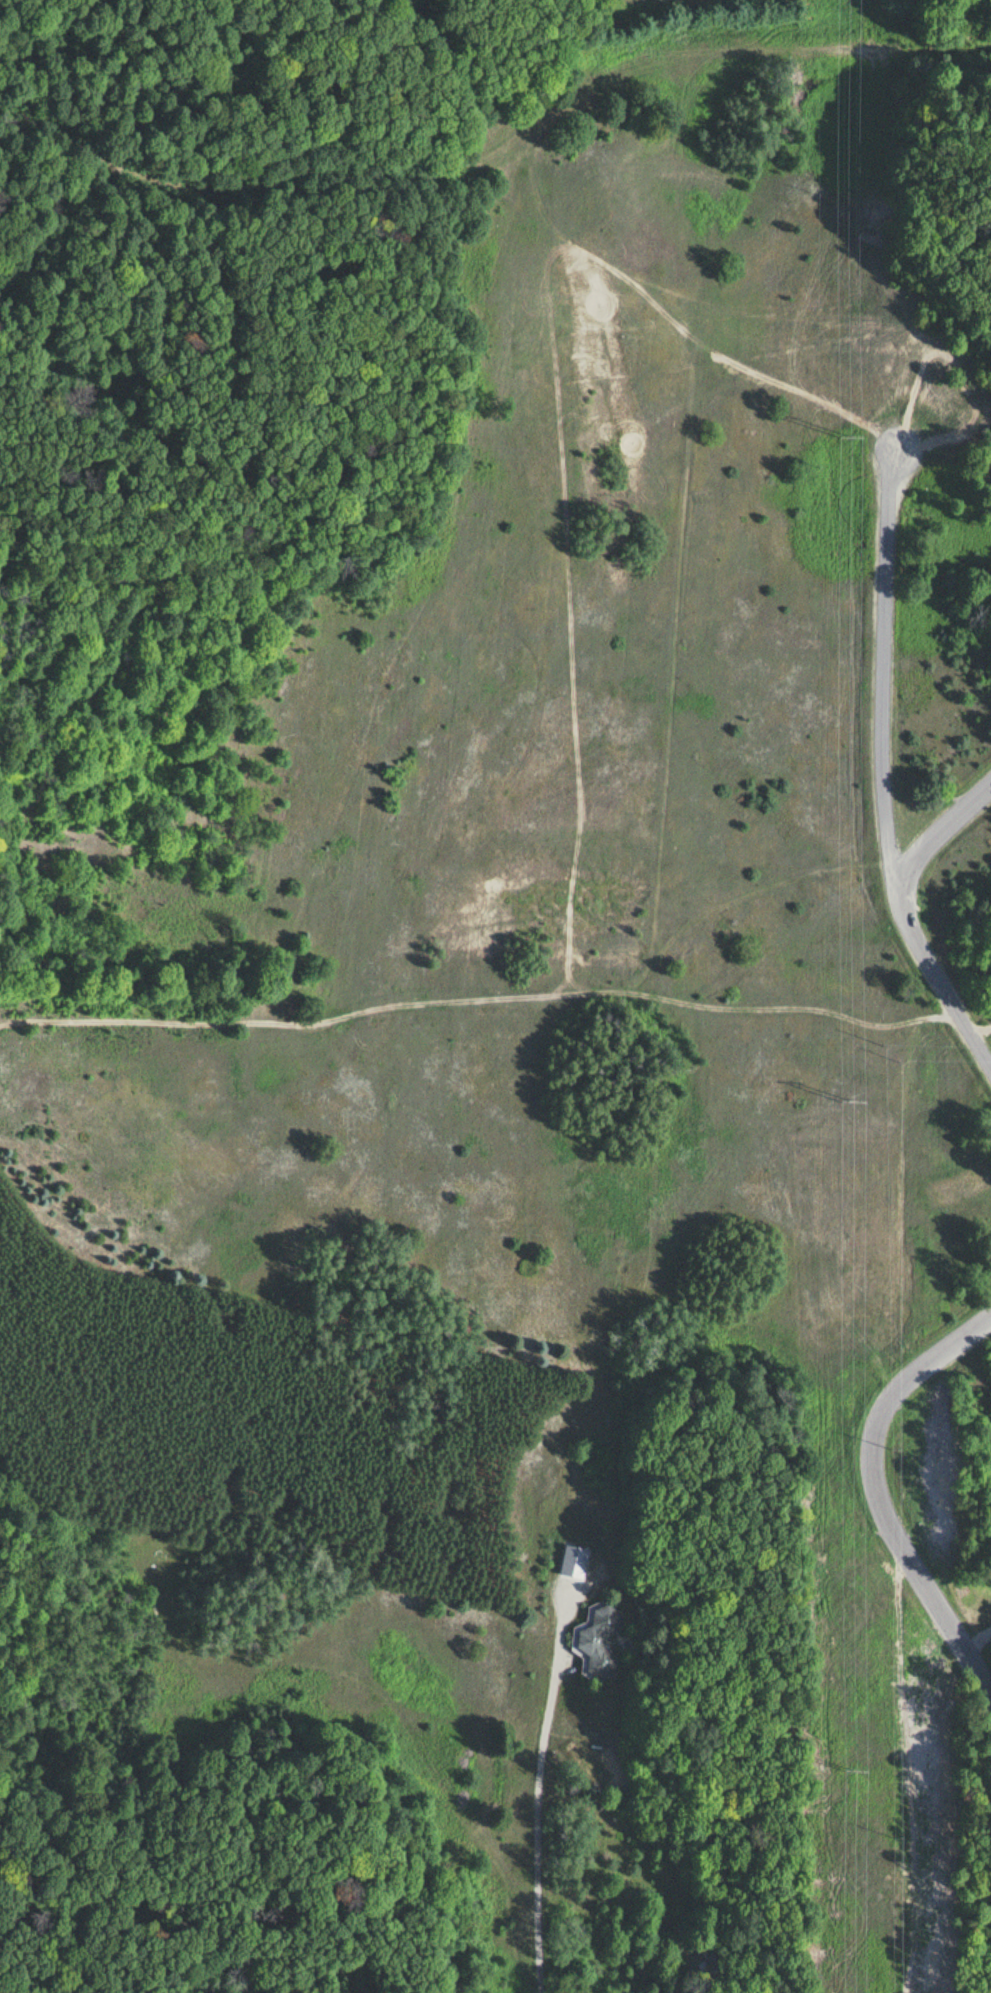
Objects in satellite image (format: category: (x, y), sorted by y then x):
road: (921, 50)
road: (680, 59)
road: (44, 127)
road: (308, 179)
road: (45, 199)
road: (888, 774)
road: (944, 822)
power tower: (850, 1101)
road: (875, 1489)
building: (594, 1641)
power tower: (856, 1768)
road: (543, 1782)

